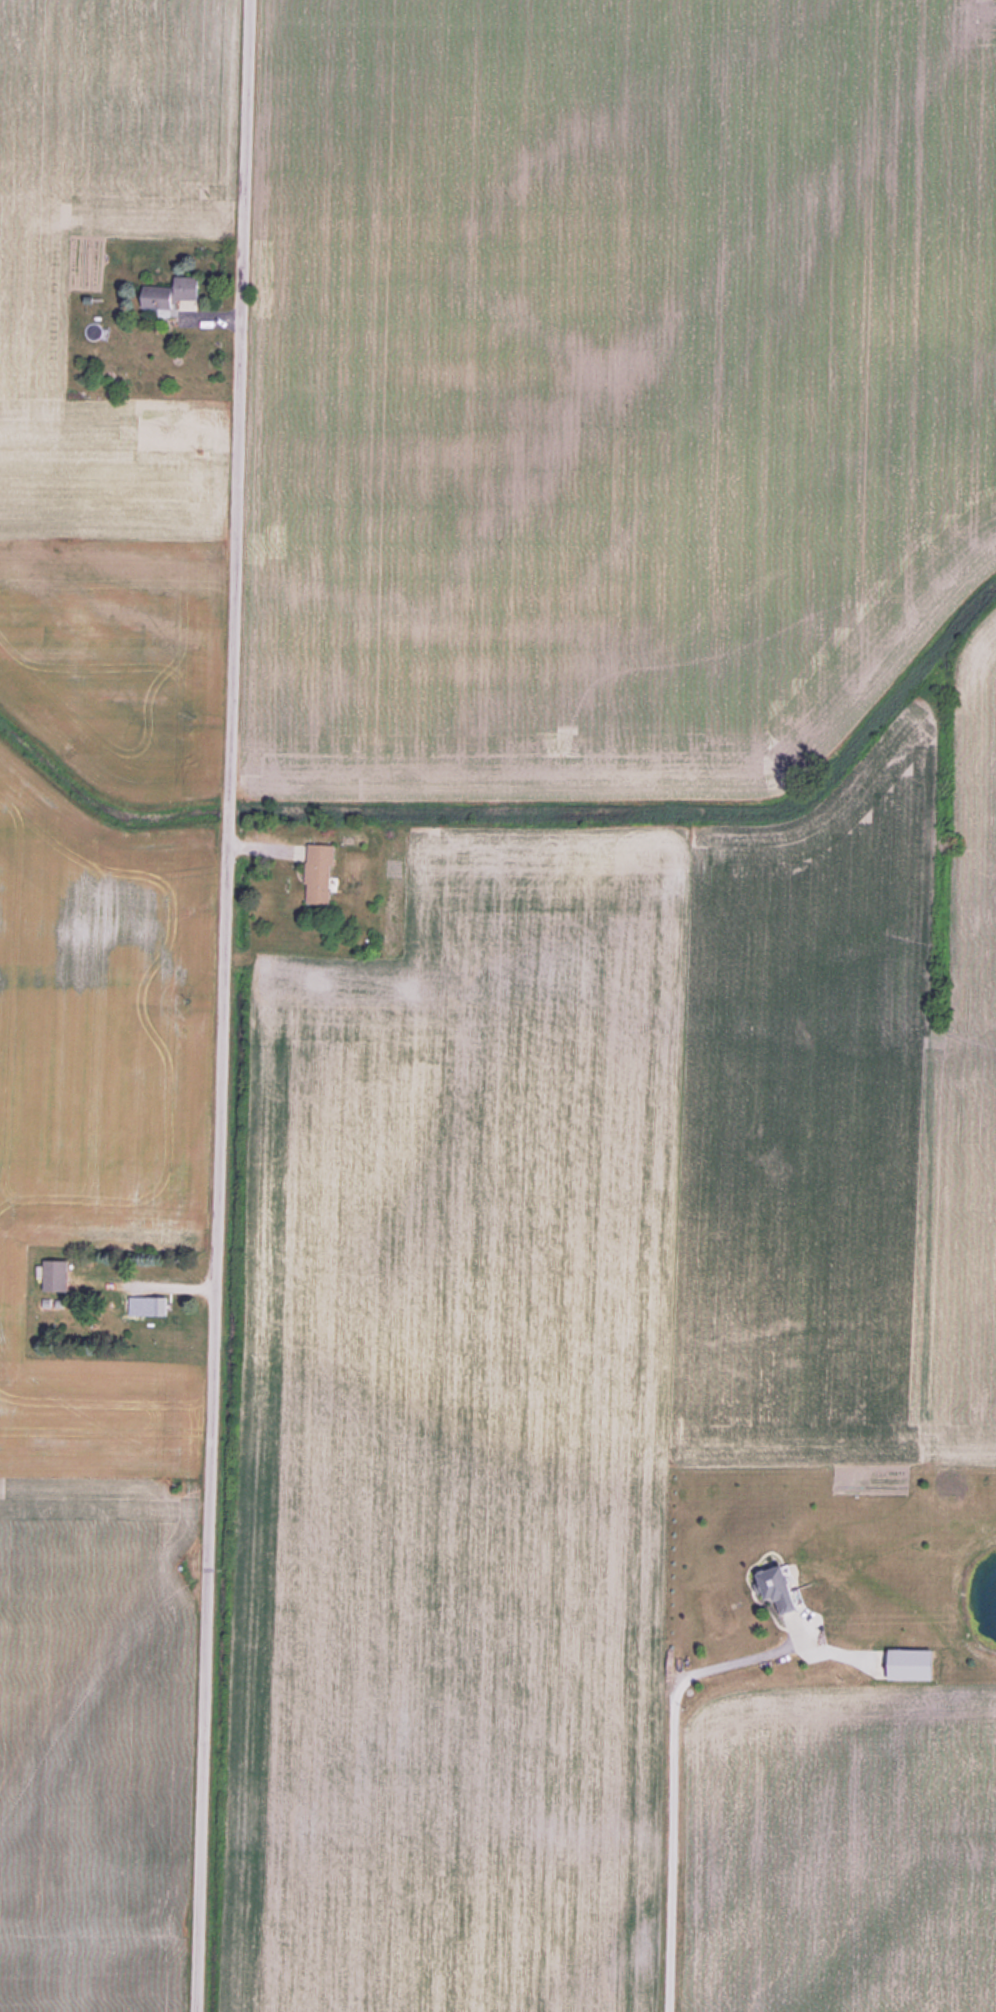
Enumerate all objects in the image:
building: (175, 295)
building: (321, 873)
road: (223, 1006)
building: (57, 1275)
building: (154, 1306)
building: (784, 1590)
road: (671, 1784)

